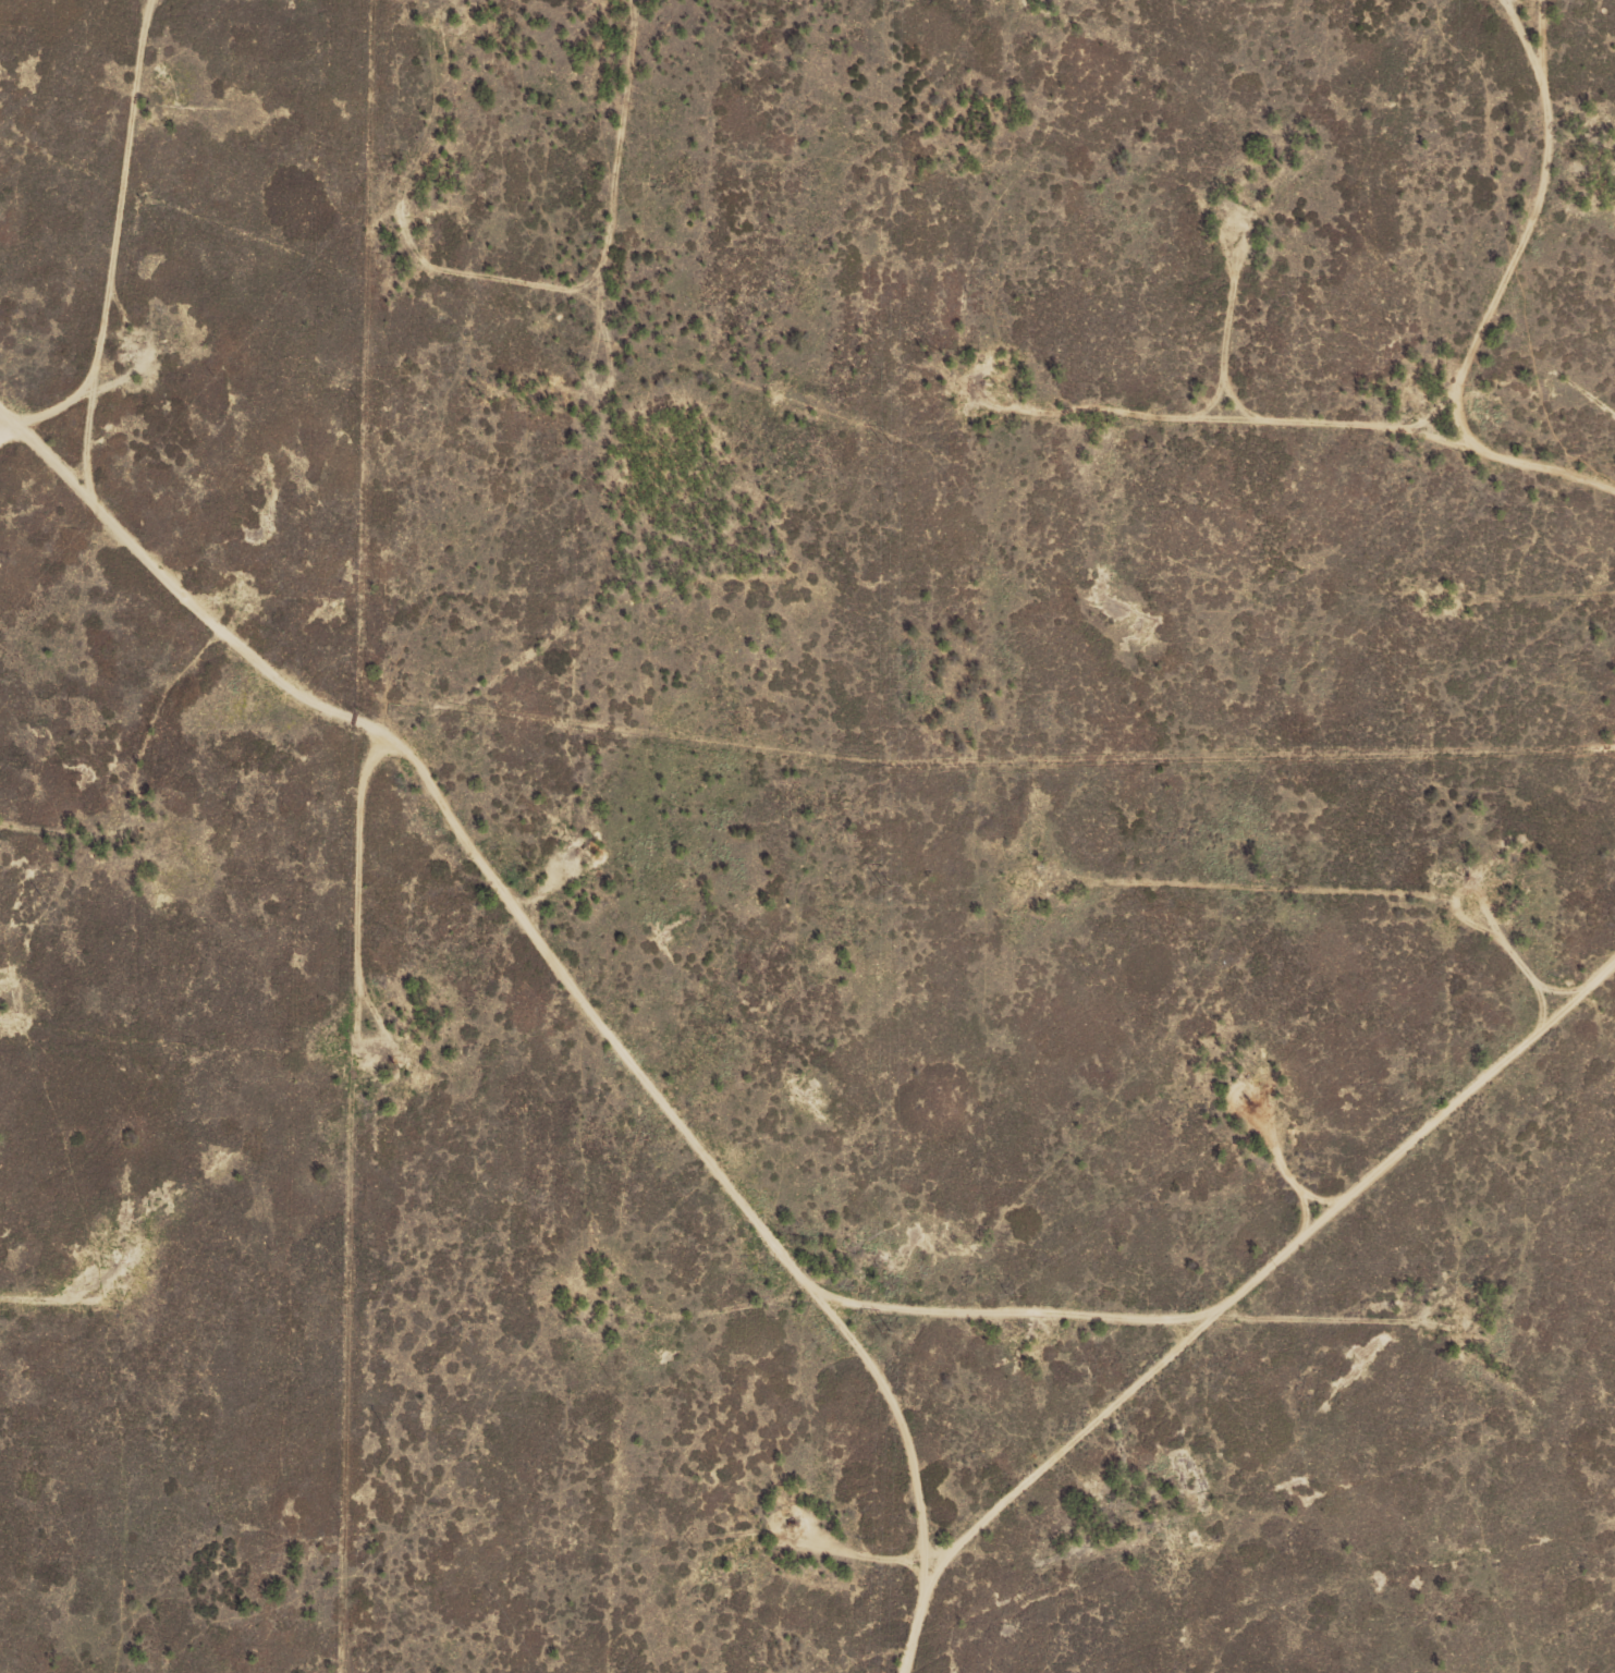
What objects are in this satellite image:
road: (307, 5)
road: (1527, 9)
road: (119, 350)
power tower: (889, 445)
road: (1345, 467)
road: (666, 505)
power tower: (884, 883)
road: (563, 900)
road: (1073, 926)
road: (1497, 1000)
road: (726, 1121)
road: (1336, 1316)
power tower: (884, 1335)
road: (54, 1344)

